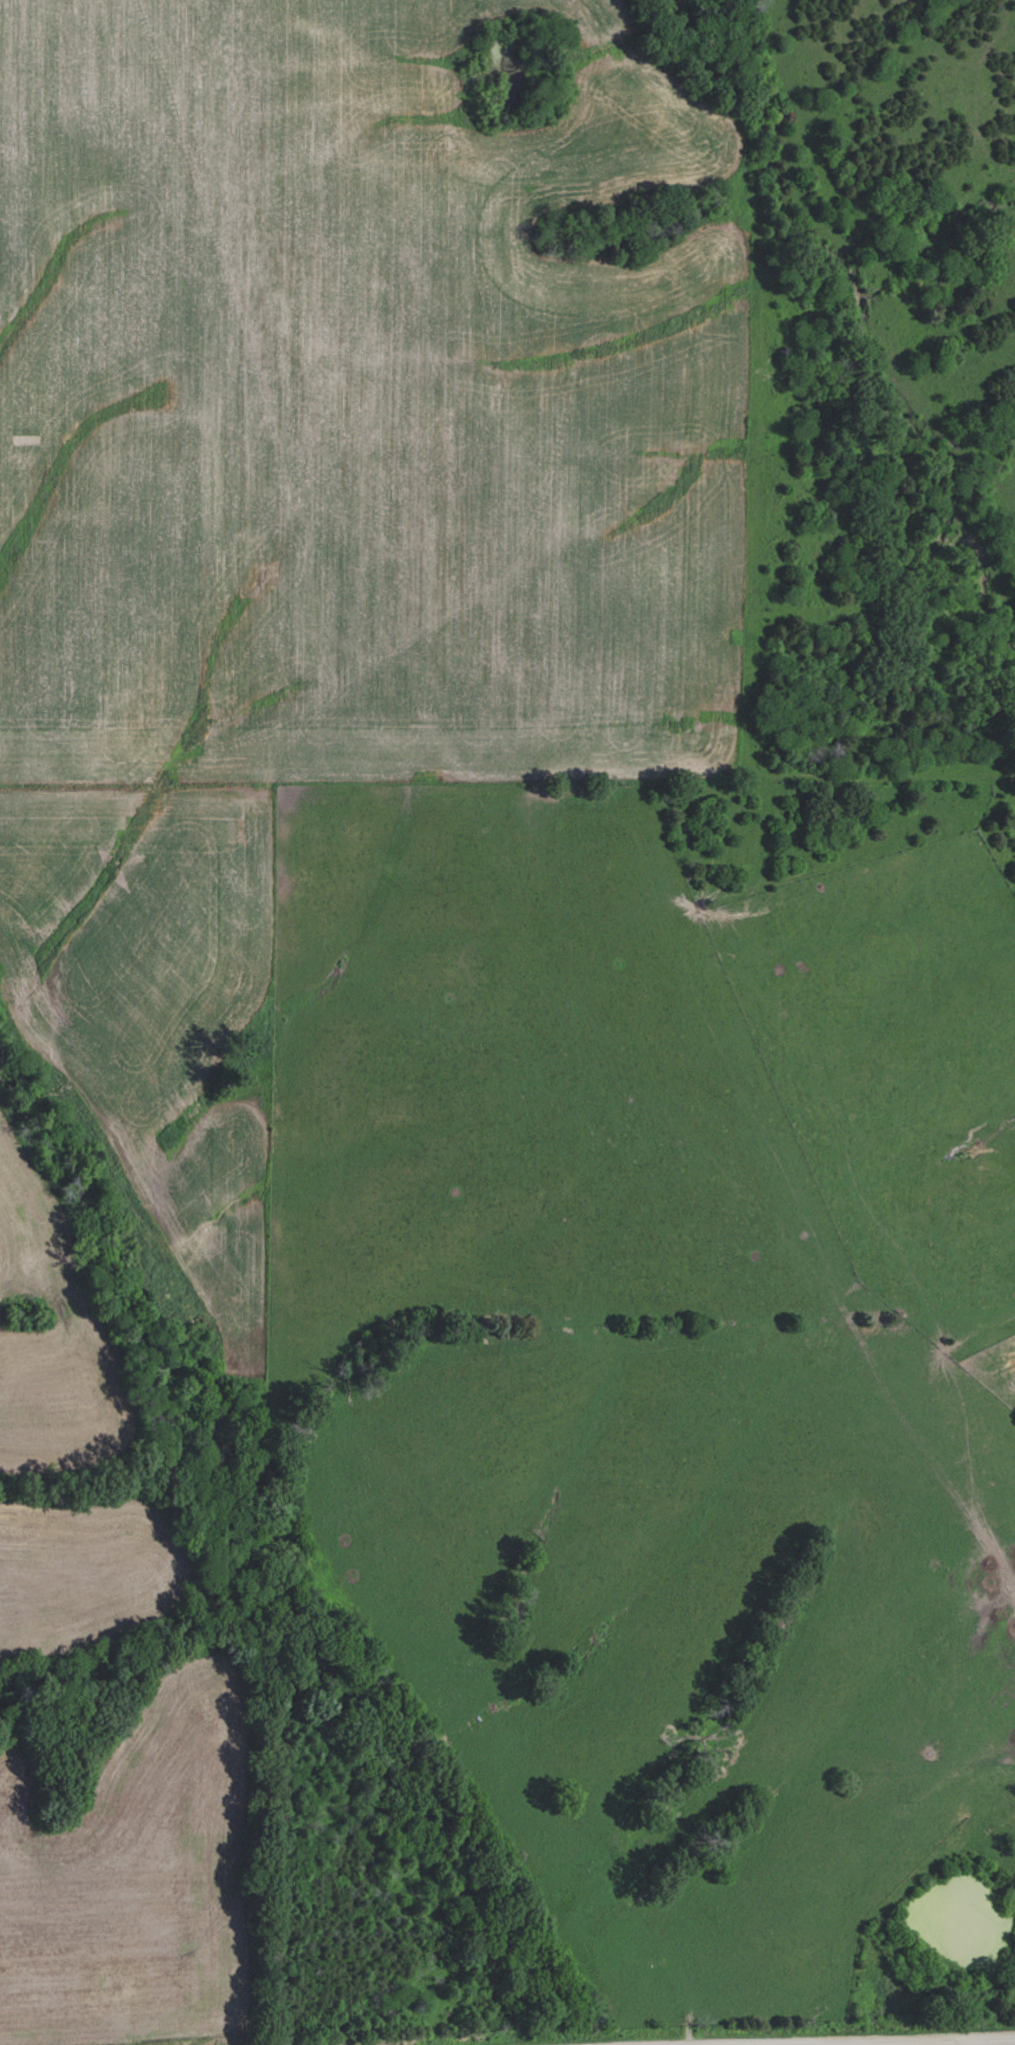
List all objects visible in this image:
road: (874, 2042)

